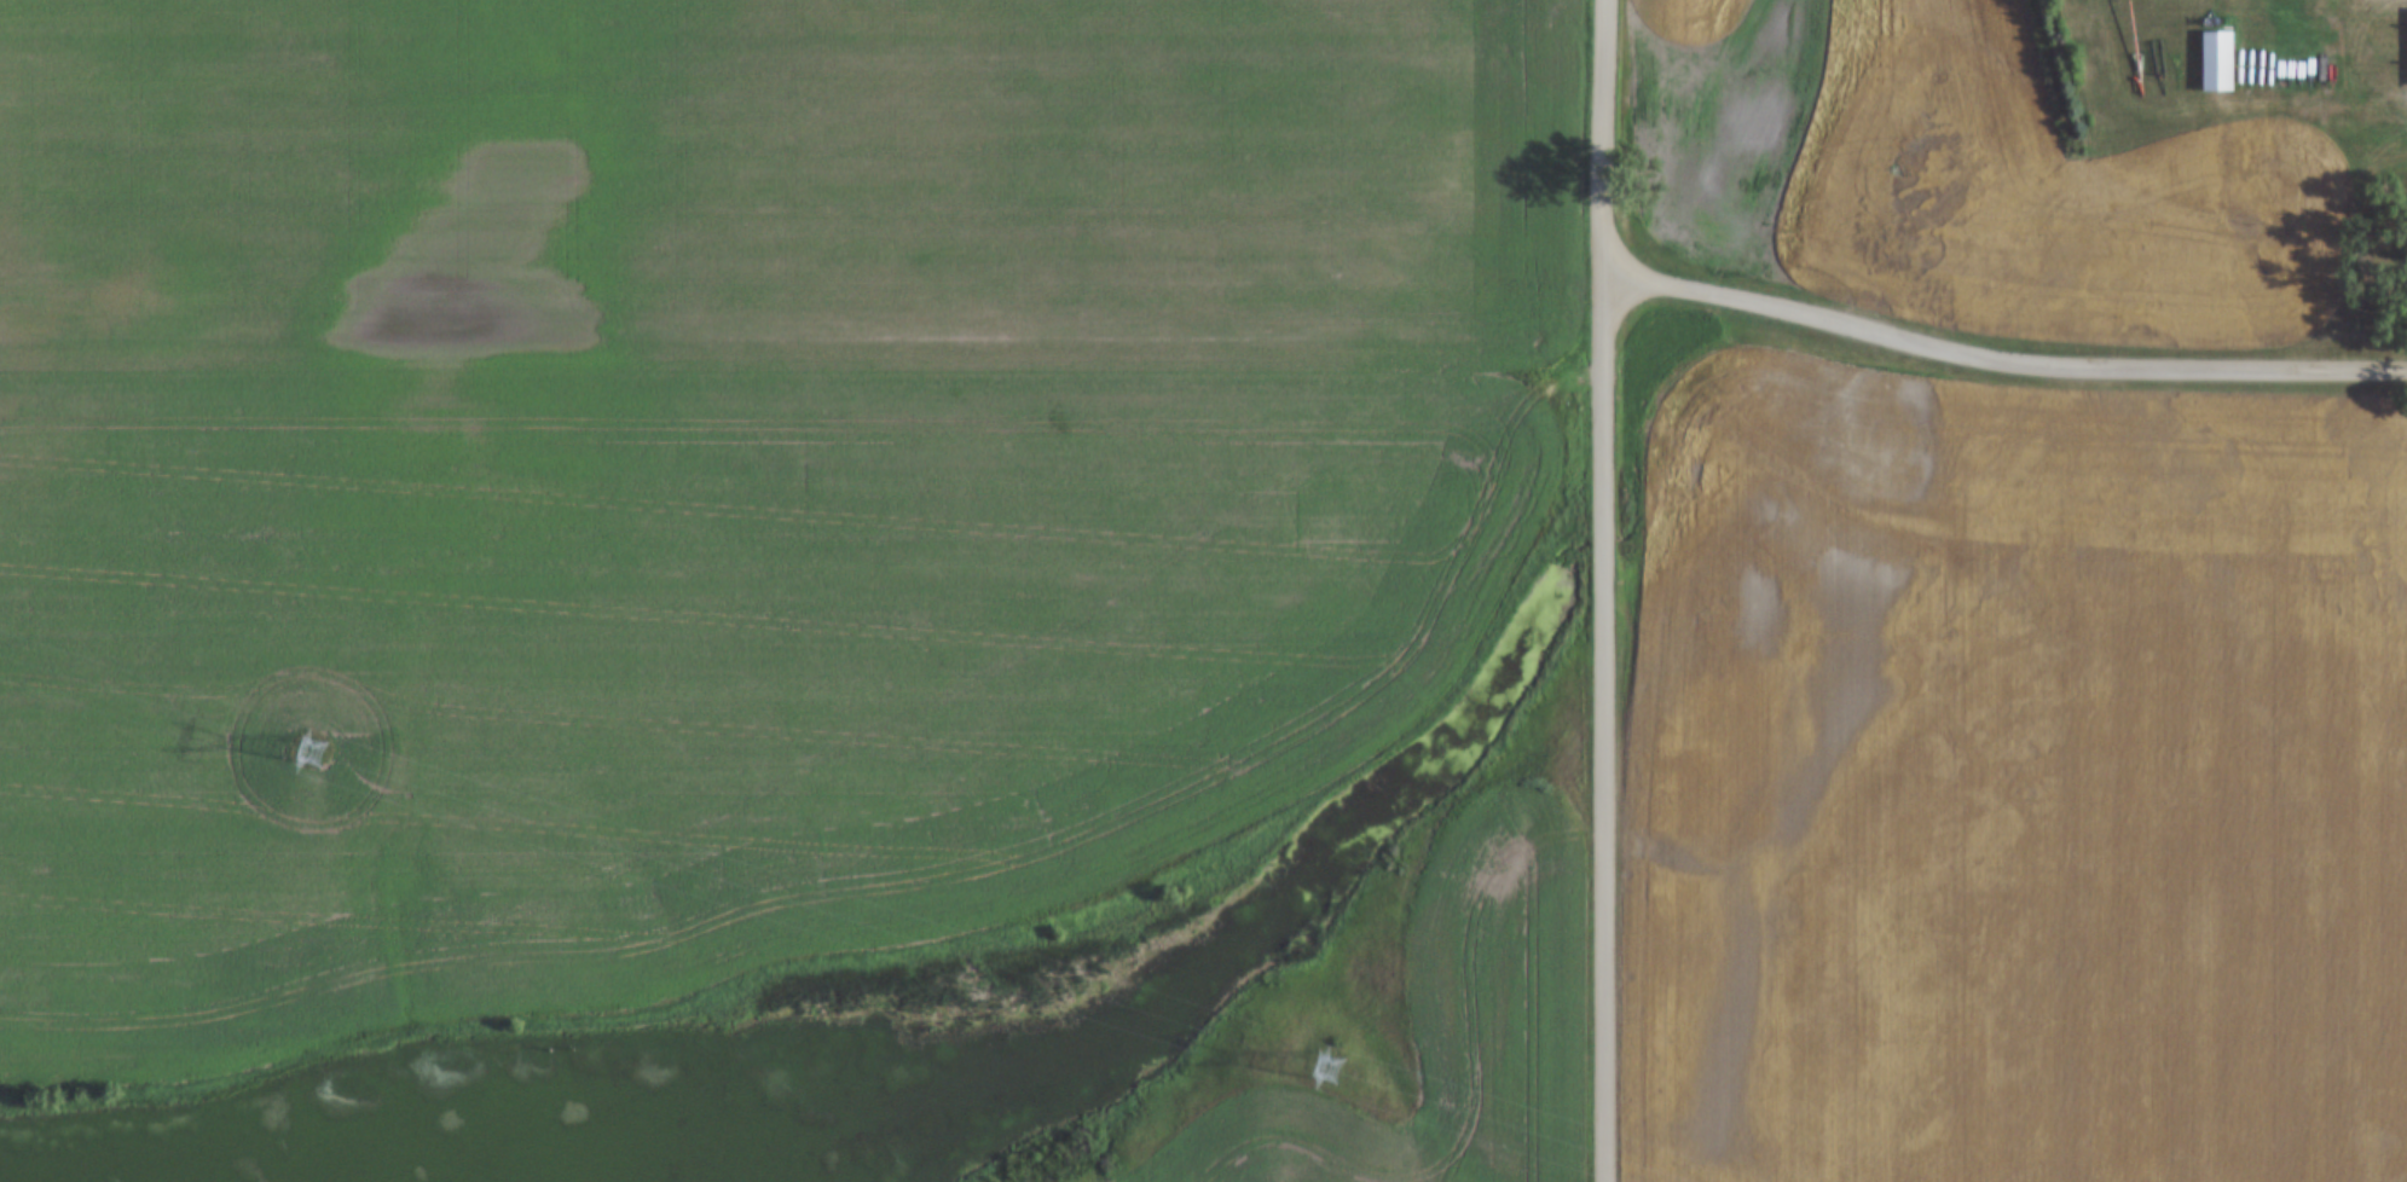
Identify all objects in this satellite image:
building: (2217, 59)
road: (1998, 364)
road: (1604, 590)
power tower: (311, 753)
power tower: (1326, 1067)

